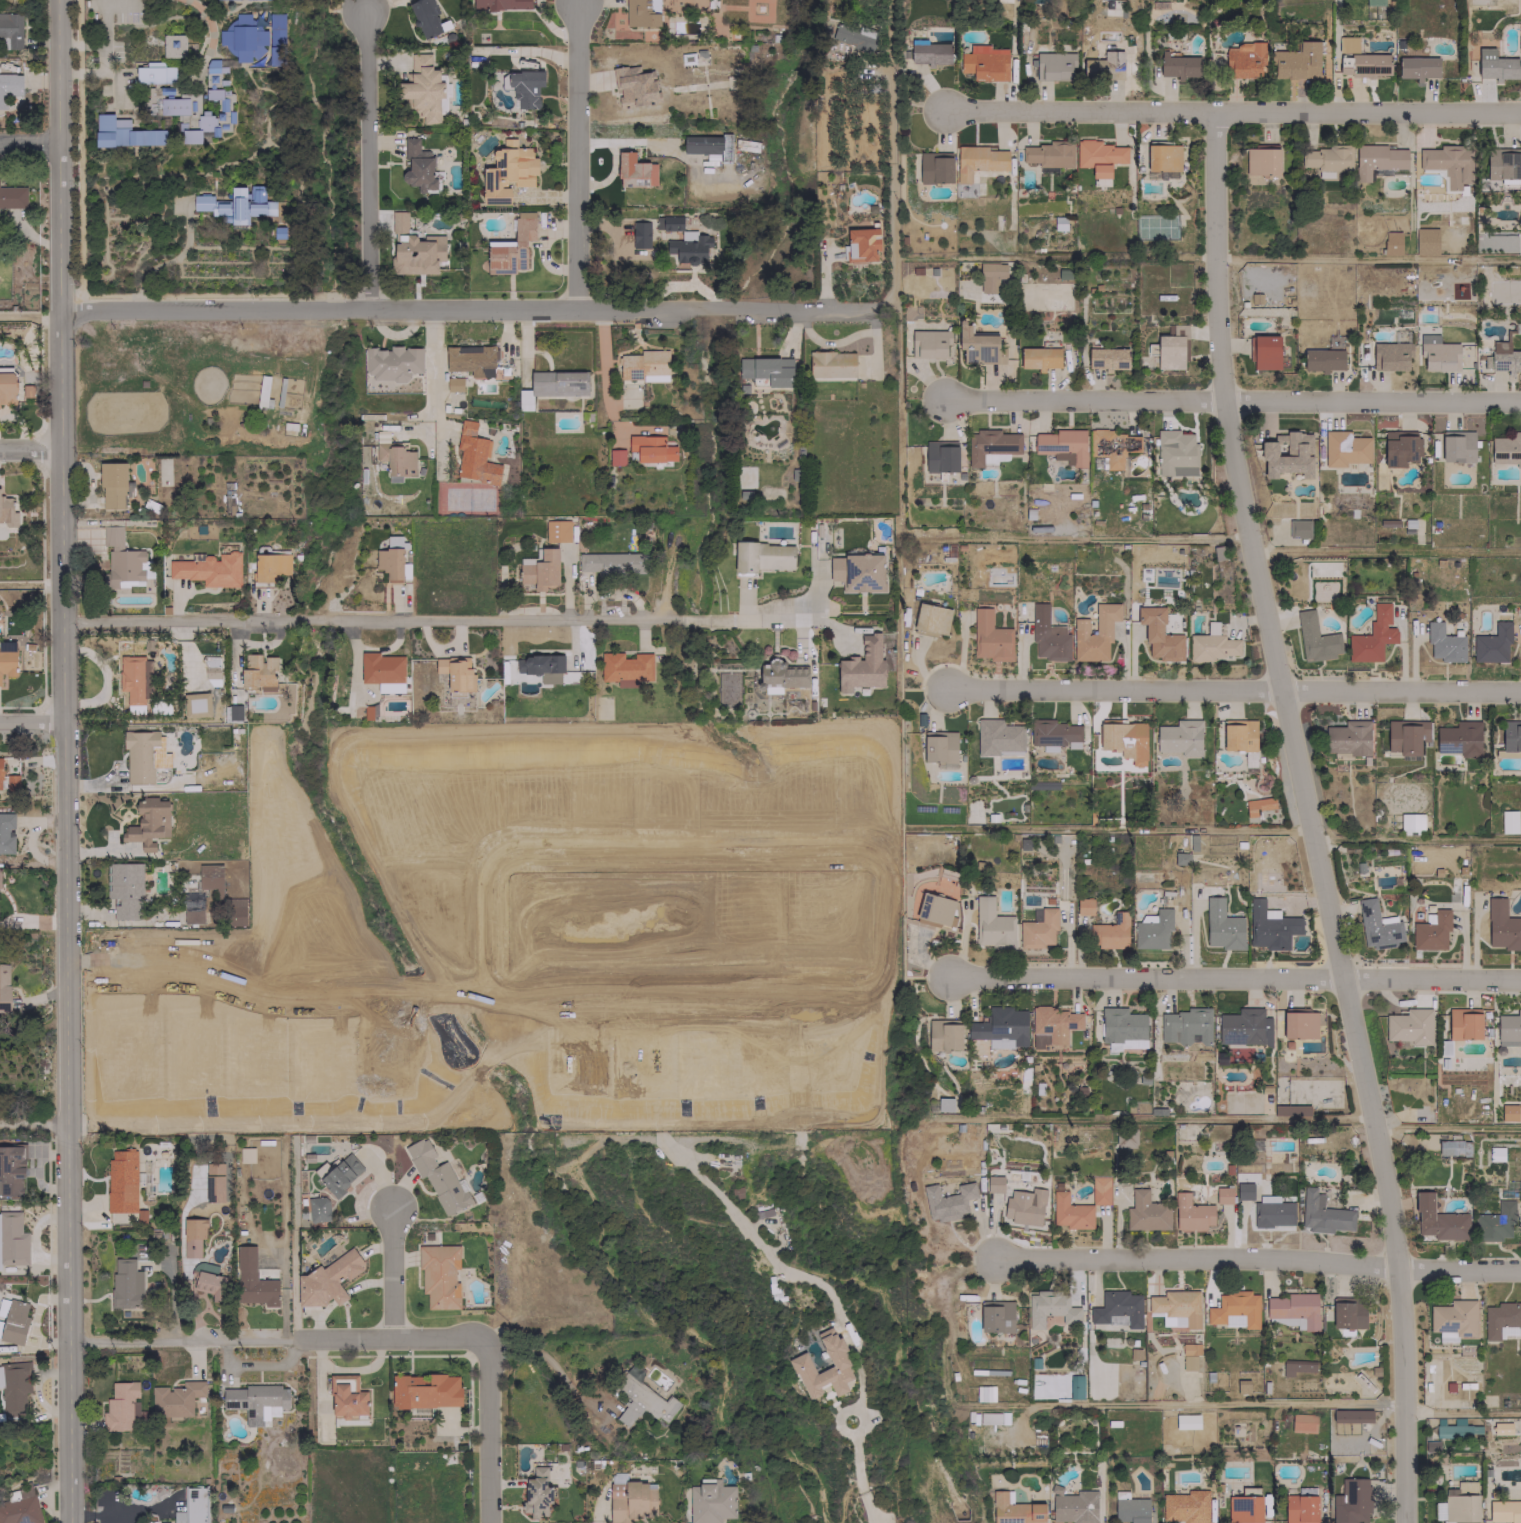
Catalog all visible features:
building: (1003, 0)
building: (1374, 2)
building: (500, 4)
building: (641, 12)
building: (425, 18)
road: (102, 23)
building: (275, 28)
building: (10, 30)
building: (853, 36)
building: (243, 41)
road: (82, 43)
building: (1347, 44)
building: (173, 45)
building: (930, 53)
building: (1243, 60)
building: (1296, 61)
building: (984, 62)
building: (1053, 65)
building: (1178, 65)
building: (1363, 65)
building: (1495, 65)
building: (1103, 67)
building: (1416, 67)
road: (82, 72)
building: (154, 73)
road: (117, 82)
building: (9, 86)
building: (634, 86)
building: (525, 87)
building: (423, 88)
building: (173, 106)
road: (1233, 109)
building: (209, 118)
building: (123, 132)
road: (30, 144)
building: (708, 145)
road: (578, 153)
building: (1049, 154)
road: (366, 156)
building: (1098, 156)
building: (1162, 157)
building: (1326, 159)
building: (1376, 159)
building: (1261, 160)
building: (978, 161)
building: (1448, 163)
building: (1503, 163)
building: (417, 166)
building: (935, 167)
building: (634, 171)
building: (507, 172)
road: (891, 186)
building: (12, 196)
building: (236, 204)
building: (1519, 215)
building: (668, 222)
building: (639, 234)
building: (1425, 241)
building: (1391, 243)
building: (860, 245)
building: (511, 246)
building: (687, 248)
building: (413, 249)
road: (1368, 257)
building: (990, 276)
road: (468, 306)
building: (1334, 342)
building: (929, 343)
building: (978, 346)
building: (1170, 347)
building: (1263, 352)
building: (1390, 355)
building: (1439, 356)
building: (1039, 357)
building: (1504, 357)
building: (1107, 358)
building: (471, 359)
building: (1321, 359)
road: (431, 360)
building: (391, 362)
building: (831, 364)
building: (644, 366)
building: (767, 370)
road: (603, 378)
building: (454, 384)
building: (7, 387)
road: (1234, 400)
building: (1062, 445)
building: (990, 446)
building: (1111, 446)
building: (1456, 446)
road: (30, 447)
building: (1398, 447)
building: (651, 448)
building: (1344, 448)
building: (1506, 449)
building: (1175, 453)
building: (474, 455)
building: (615, 456)
building: (940, 456)
building: (1288, 456)
building: (395, 460)
building: (112, 478)
building: (7, 512)
building: (1388, 523)
building: (1298, 528)
building: (556, 530)
building: (122, 557)
building: (761, 557)
building: (389, 563)
building: (612, 563)
building: (270, 566)
building: (209, 569)
building: (540, 570)
building: (857, 572)
road: (435, 619)
building: (931, 619)
building: (1094, 633)
building: (1159, 635)
building: (1047, 636)
building: (1372, 636)
building: (989, 637)
building: (1315, 638)
building: (1492, 641)
building: (1443, 643)
building: (1211, 645)
building: (7, 658)
building: (539, 664)
building: (861, 665)
building: (381, 668)
building: (625, 668)
building: (257, 672)
building: (782, 674)
building: (134, 678)
building: (390, 687)
road: (1234, 689)
building: (198, 704)
building: (232, 712)
road: (33, 720)
building: (1053, 734)
building: (1238, 734)
building: (1405, 736)
building: (997, 737)
building: (1179, 737)
building: (1347, 738)
building: (1459, 738)
building: (1124, 740)
building: (939, 747)
building: (143, 755)
road: (66, 761)
building: (0, 775)
building: (11, 785)
building: (1257, 805)
road: (1310, 815)
building: (1410, 821)
building: (1508, 821)
building: (148, 823)
building: (6, 832)
building: (1180, 858)
building: (210, 878)
building: (1261, 879)
building: (124, 889)
building: (1083, 906)
building: (192, 908)
building: (935, 910)
building: (236, 911)
building: (992, 925)
building: (1502, 925)
building: (1221, 926)
building: (1270, 926)
building: (1376, 926)
building: (1037, 929)
building: (1153, 931)
building: (1430, 931)
building: (1110, 932)
crop: (525, 937)
road: (1236, 976)
building: (655, 982)
building: (4, 988)
road: (523, 991)
building: (1463, 1023)
building: (1299, 1024)
building: (1053, 1025)
building: (1185, 1026)
building: (1409, 1026)
building: (1121, 1027)
building: (1243, 1027)
building: (1000, 1028)
building: (1509, 1028)
building: (702, 1033)
building: (943, 1034)
building: (629, 1079)
building: (944, 1104)
building: (1290, 1110)
building: (1508, 1112)
road: (34, 1126)
building: (1124, 1137)
building: (1453, 1147)
building: (1495, 1153)
building: (246, 1154)
building: (11, 1169)
building: (340, 1175)
building: (437, 1177)
building: (121, 1181)
building: (993, 1184)
building: (1099, 1190)
building: (1243, 1190)
building: (1222, 1195)
building: (947, 1201)
building: (1024, 1206)
building: (318, 1209)
building: (1070, 1212)
building: (1145, 1212)
building: (1271, 1212)
building: (1190, 1213)
building: (1322, 1214)
building: (1438, 1220)
building: (1495, 1222)
building: (192, 1236)
building: (12, 1239)
road: (1262, 1257)
road: (393, 1273)
building: (439, 1275)
building: (328, 1278)
building: (252, 1280)
building: (125, 1283)
building: (208, 1283)
building: (1117, 1307)
building: (1049, 1308)
building: (1176, 1308)
building: (1233, 1309)
building: (1293, 1310)
building: (1347, 1312)
building: (995, 1316)
building: (1453, 1317)
building: (1501, 1319)
building: (14, 1322)
road: (184, 1337)
road: (393, 1338)
building: (1189, 1355)
building: (837, 1362)
road: (553, 1365)
building: (1296, 1366)
building: (1075, 1386)
building: (1242, 1386)
building: (14, 1387)
building: (426, 1391)
building: (984, 1393)
building: (346, 1396)
building: (175, 1398)
building: (641, 1400)
building: (255, 1402)
building: (122, 1407)
building: (1351, 1415)
building: (1186, 1420)
building: (1302, 1422)
building: (1499, 1427)
building: (1452, 1428)
road: (491, 1431)
road: (857, 1472)
building: (536, 1492)
building: (630, 1500)
building: (1350, 1501)
building: (710, 1502)
building: (1459, 1504)
building: (191, 1506)
building: (1074, 1506)
building: (1185, 1506)
building: (19, 1507)
building: (1129, 1508)
building: (1299, 1508)
building: (1014, 1509)
building: (1243, 1509)
building: (1504, 1511)
road: (116, 1512)
building: (163, 1522)

